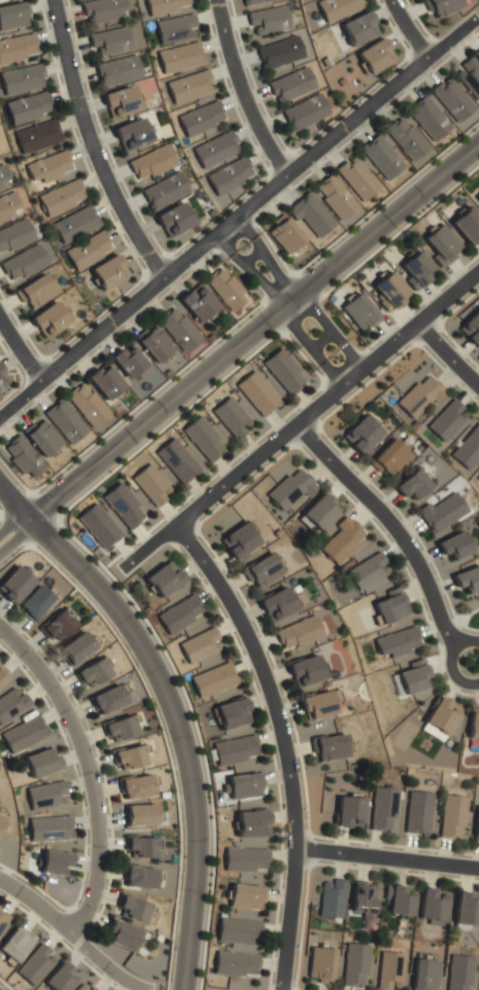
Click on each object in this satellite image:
building: (253, 1)
building: (165, 5)
building: (440, 6)
building: (337, 8)
building: (102, 10)
building: (13, 15)
building: (269, 18)
building: (175, 28)
building: (358, 29)
road: (411, 29)
building: (109, 39)
building: (17, 48)
building: (279, 52)
building: (477, 53)
building: (477, 56)
building: (179, 57)
building: (374, 57)
building: (116, 70)
building: (469, 77)
building: (21, 79)
building: (290, 84)
building: (188, 87)
road: (244, 90)
building: (120, 100)
building: (28, 107)
building: (442, 110)
building: (304, 112)
building: (200, 119)
building: (132, 135)
building: (37, 136)
building: (404, 139)
road: (90, 144)
building: (214, 149)
building: (381, 157)
building: (150, 163)
building: (48, 167)
building: (3, 176)
building: (229, 176)
building: (357, 179)
building: (163, 191)
building: (60, 197)
building: (335, 197)
building: (478, 199)
building: (8, 205)
road: (238, 214)
building: (311, 216)
building: (173, 220)
building: (75, 224)
building: (467, 225)
building: (14, 234)
building: (285, 236)
building: (442, 246)
building: (88, 250)
building: (22, 262)
building: (417, 271)
building: (108, 272)
building: (225, 288)
building: (34, 291)
building: (389, 291)
road: (291, 300)
building: (197, 303)
building: (358, 312)
building: (49, 318)
building: (177, 328)
building: (471, 328)
road: (238, 343)
building: (154, 345)
road: (19, 352)
road: (449, 353)
building: (127, 358)
building: (283, 372)
building: (3, 377)
building: (104, 382)
building: (256, 394)
building: (419, 397)
building: (85, 405)
building: (230, 418)
building: (64, 422)
road: (300, 422)
building: (446, 422)
building: (361, 433)
building: (42, 439)
building: (202, 440)
building: (469, 448)
building: (22, 457)
building: (389, 458)
building: (176, 461)
building: (478, 476)
building: (150, 486)
building: (411, 486)
building: (289, 489)
building: (125, 504)
building: (442, 512)
building: (318, 513)
road: (393, 524)
building: (98, 526)
building: (237, 539)
building: (341, 540)
building: (453, 545)
building: (261, 571)
building: (368, 571)
building: (467, 578)
building: (160, 581)
building: (14, 584)
building: (35, 601)
building: (277, 604)
building: (389, 606)
park: (464, 613)
building: (179, 614)
road: (455, 619)
building: (57, 625)
road: (466, 626)
building: (297, 633)
building: (397, 642)
building: (199, 645)
building: (76, 647)
road: (450, 661)
building: (305, 671)
building: (92, 672)
building: (2, 674)
building: (411, 678)
building: (212, 679)
building: (108, 698)
building: (11, 703)
building: (318, 705)
road: (173, 709)
building: (230, 713)
building: (441, 715)
building: (474, 726)
building: (119, 728)
building: (22, 734)
road: (285, 744)
building: (329, 747)
building: (234, 750)
building: (130, 756)
building: (40, 762)
road: (85, 771)
building: (137, 785)
building: (243, 786)
building: (45, 795)
building: (382, 809)
building: (348, 811)
building: (417, 812)
building: (140, 815)
building: (452, 816)
building: (1, 817)
building: (250, 824)
building: (476, 825)
building: (49, 828)
building: (141, 847)
road: (387, 857)
building: (245, 859)
building: (53, 861)
building: (138, 877)
building: (245, 896)
building: (331, 898)
building: (362, 900)
building: (399, 902)
building: (433, 906)
building: (132, 909)
building: (466, 911)
building: (3, 919)
building: (238, 931)
building: (121, 935)
road: (72, 936)
building: (15, 944)
building: (320, 963)
building: (235, 964)
building: (355, 964)
building: (35, 966)
building: (389, 970)
building: (459, 972)
building: (423, 974)
building: (58, 979)
building: (83, 987)

